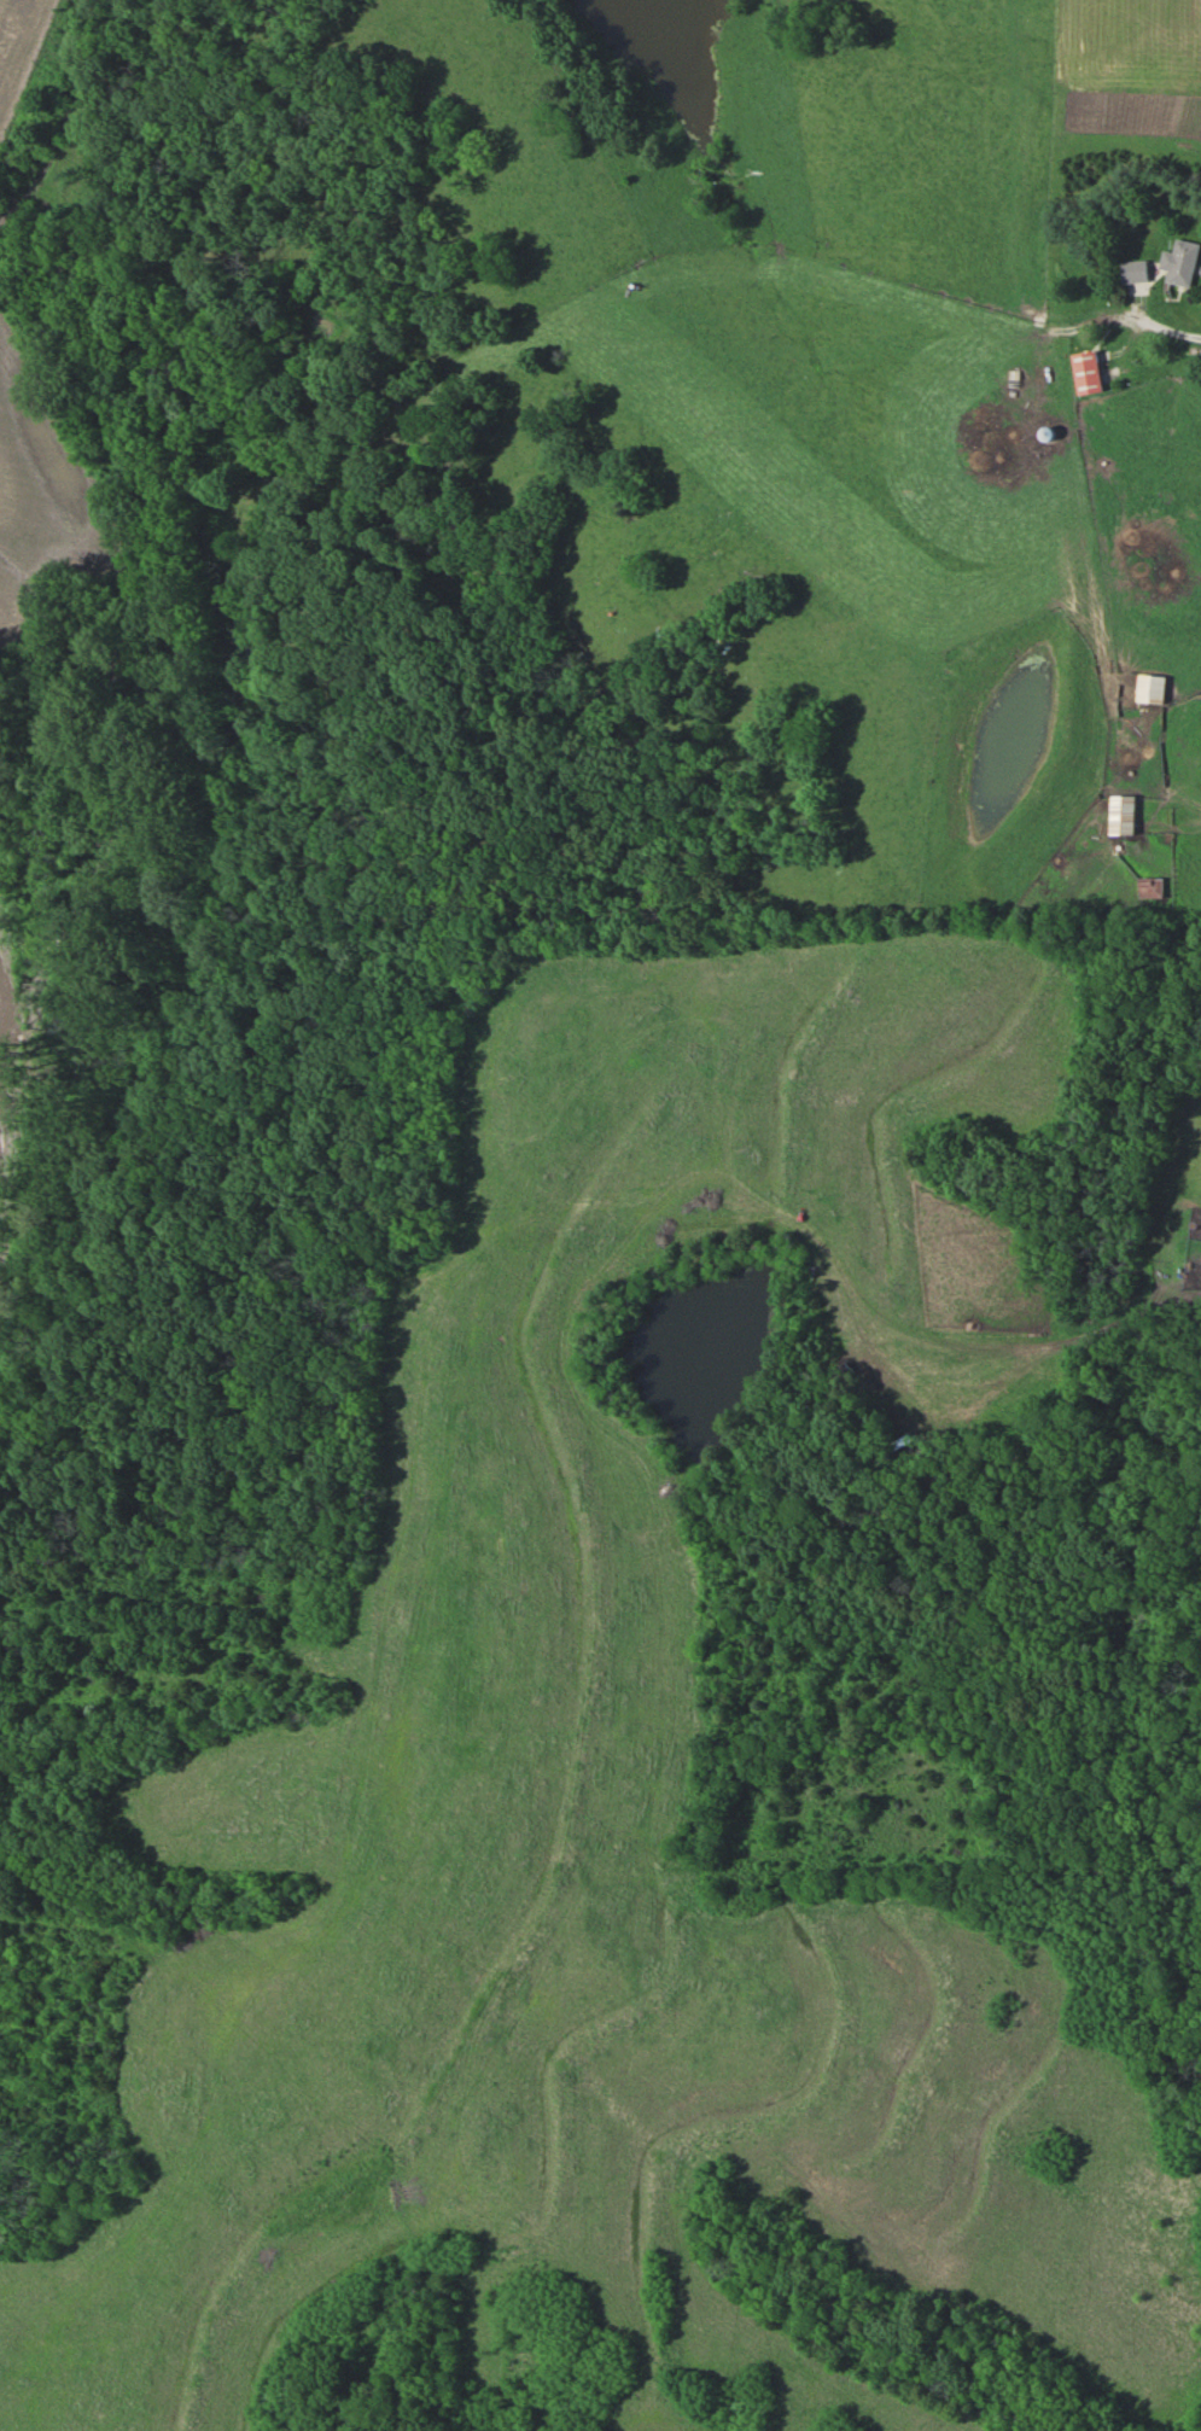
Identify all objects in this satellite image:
crop: (29, 52)
building: (1184, 262)
building: (1138, 270)
road: (1162, 327)
building: (1091, 371)
crop: (43, 496)
building: (1154, 688)
building: (1153, 886)

